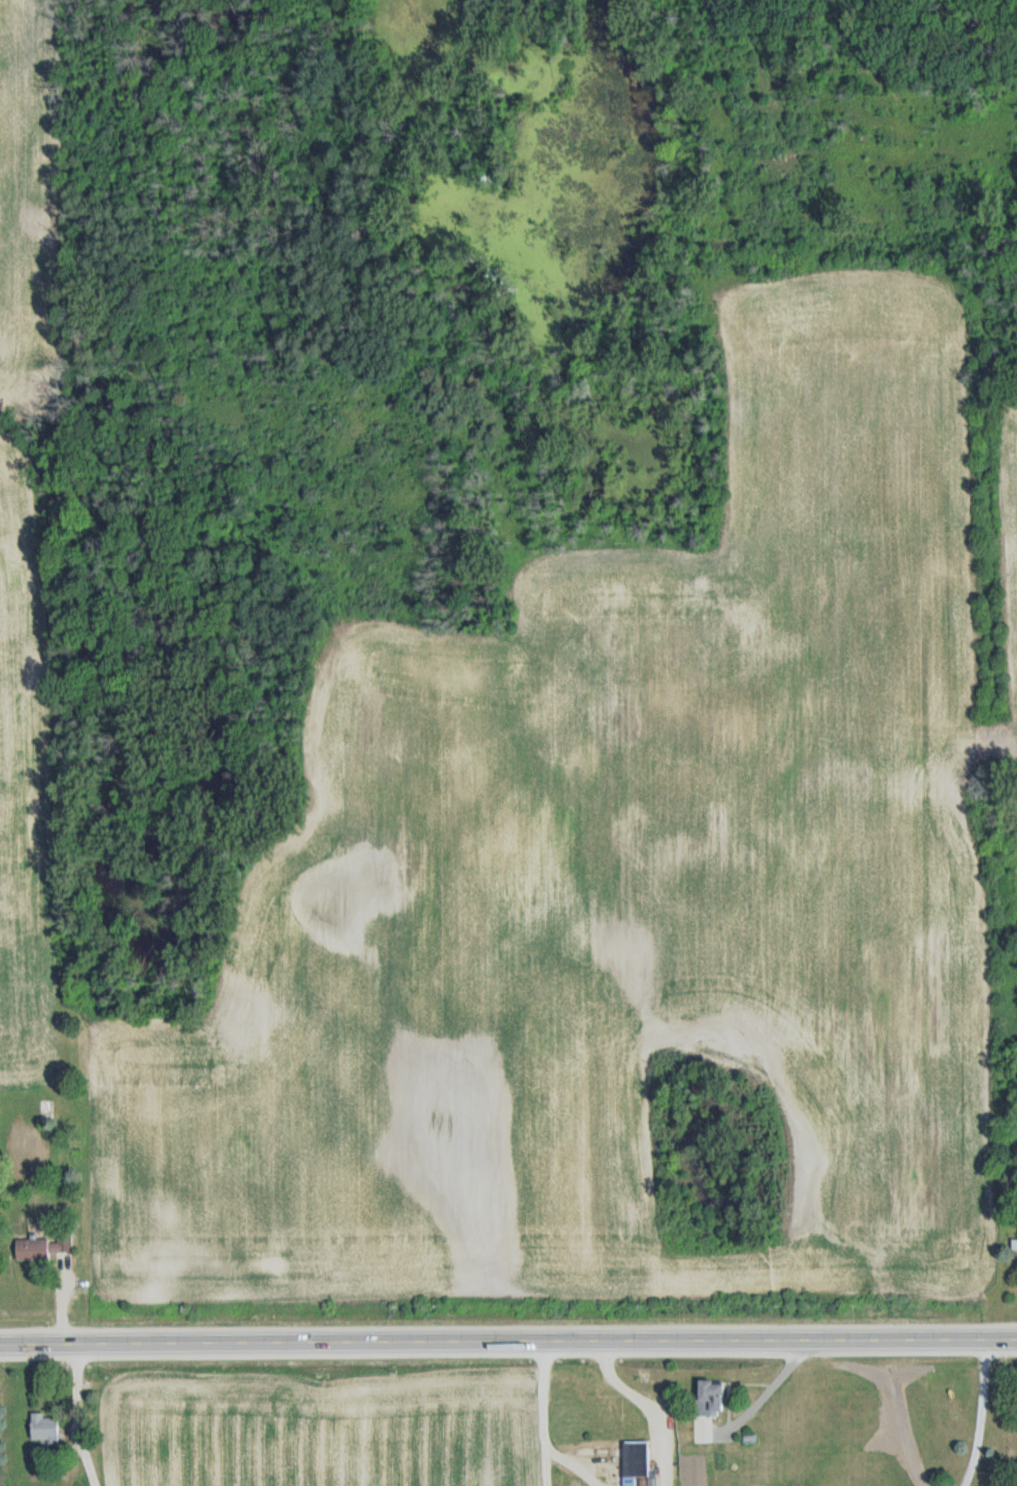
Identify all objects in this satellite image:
building: (48, 1111)
building: (44, 1248)
road: (508, 1339)
building: (716, 1394)
road: (763, 1397)
road: (984, 1413)
crop: (1015, 1423)
building: (47, 1427)
building: (637, 1462)

